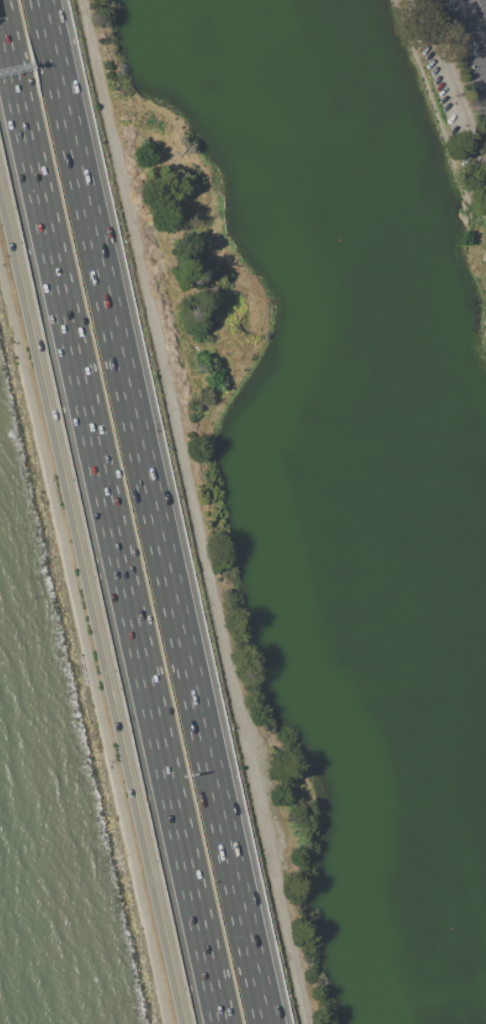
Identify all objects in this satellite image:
road: (475, 16)
road: (472, 41)
road: (455, 85)
road: (434, 107)
park: (328, 452)
road: (157, 511)
road: (198, 512)
road: (111, 518)
road: (92, 604)
park: (82, 642)
road: (82, 650)

